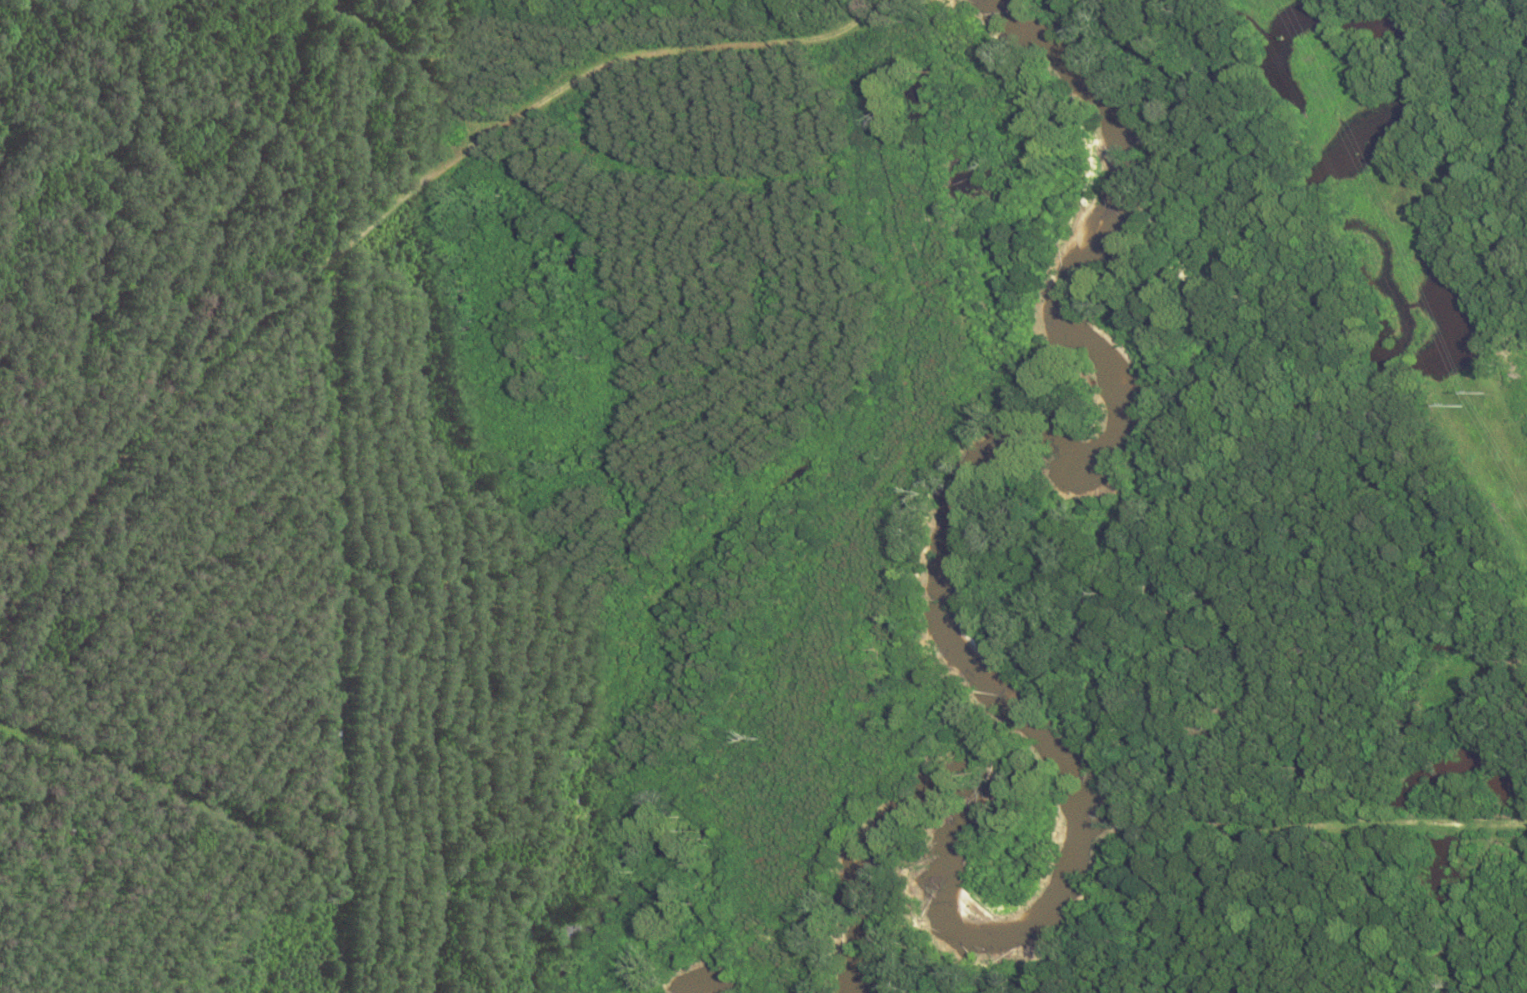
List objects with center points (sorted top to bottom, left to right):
road: (516, 118)
power tower: (1478, 400)
river: (933, 539)

